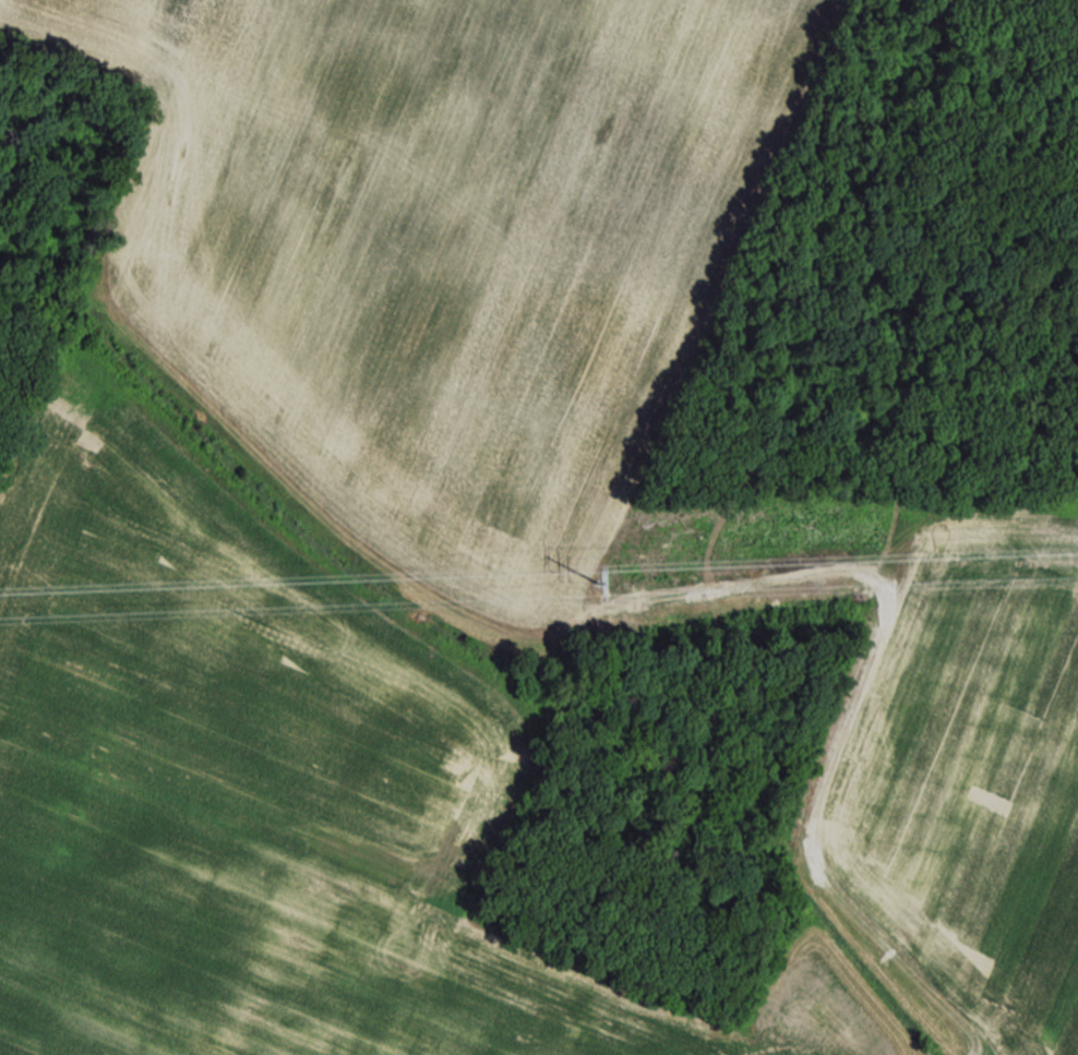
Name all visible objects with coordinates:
crop: (112, 35)
crop: (460, 240)
power tower: (587, 590)
crop: (989, 799)
crop: (266, 816)

